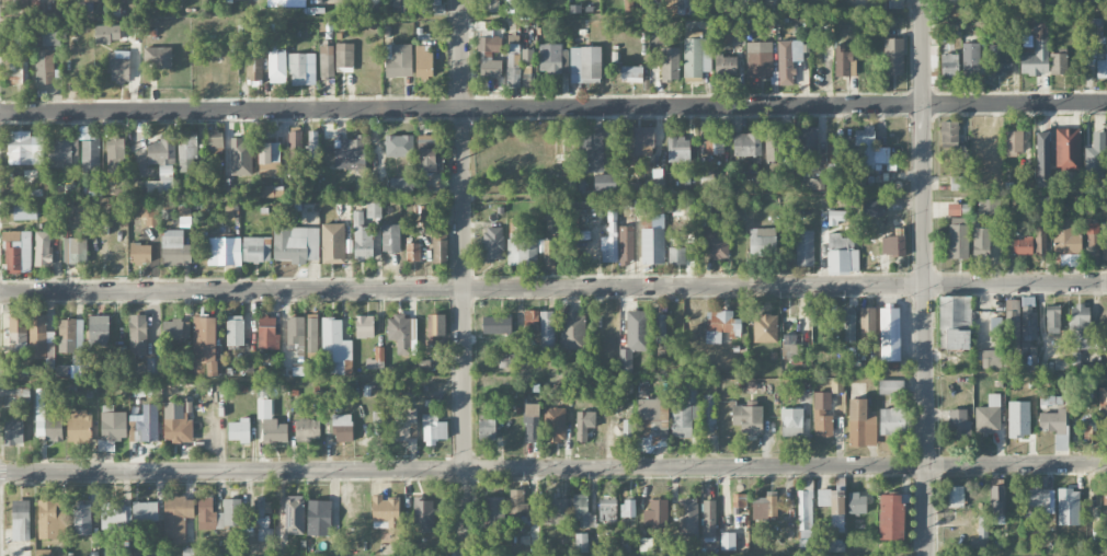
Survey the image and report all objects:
building: (287, 2)
building: (894, 3)
building: (26, 5)
building: (491, 5)
building: (681, 5)
building: (1094, 26)
building: (107, 33)
building: (731, 33)
building: (50, 36)
building: (19, 37)
building: (1037, 50)
building: (344, 54)
building: (696, 56)
building: (893, 56)
building: (157, 57)
building: (490, 57)
building: (553, 58)
building: (758, 58)
building: (1000, 58)
building: (398, 59)
building: (788, 59)
building: (513, 60)
building: (970, 60)
building: (327, 61)
building: (424, 61)
building: (844, 61)
building: (670, 62)
building: (1058, 62)
building: (726, 63)
building: (585, 65)
building: (949, 65)
building: (45, 66)
building: (118, 66)
building: (276, 67)
building: (301, 67)
building: (1102, 67)
building: (254, 70)
building: (527, 70)
building: (16, 72)
building: (631, 73)
road: (553, 107)
building: (949, 131)
building: (1014, 140)
building: (639, 142)
building: (294, 143)
building: (714, 143)
building: (746, 143)
building: (216, 144)
building: (311, 144)
building: (398, 146)
building: (20, 147)
building: (774, 147)
building: (678, 148)
building: (591, 149)
building: (804, 149)
building: (1068, 149)
building: (161, 150)
building: (115, 151)
building: (186, 151)
building: (349, 151)
building: (870, 151)
building: (59, 152)
building: (426, 152)
building: (834, 153)
building: (1095, 155)
building: (90, 157)
building: (240, 157)
building: (270, 159)
building: (1042, 159)
building: (162, 181)
building: (605, 182)
building: (958, 183)
building: (815, 184)
building: (871, 208)
building: (954, 208)
building: (374, 209)
building: (424, 210)
building: (24, 211)
building: (149, 213)
building: (1041, 233)
building: (1065, 235)
building: (362, 238)
building: (390, 238)
building: (958, 238)
building: (762, 240)
building: (1092, 240)
building: (653, 242)
building: (717, 242)
building: (296, 243)
building: (333, 243)
building: (493, 243)
building: (981, 243)
building: (609, 244)
building: (892, 244)
building: (626, 245)
building: (1023, 245)
building: (804, 247)
building: (1104, 247)
building: (43, 248)
building: (174, 248)
building: (256, 248)
building: (224, 250)
building: (555, 250)
building: (78, 251)
building: (412, 251)
building: (440, 251)
building: (18, 252)
building: (98, 252)
building: (522, 252)
building: (675, 252)
building: (140, 253)
building: (842, 254)
road: (925, 277)
road: (460, 278)
road: (553, 286)
building: (1028, 318)
building: (1052, 320)
building: (530, 321)
building: (955, 322)
building: (867, 323)
building: (497, 324)
building: (849, 324)
building: (1012, 324)
building: (311, 325)
building: (720, 325)
building: (364, 326)
building: (1080, 326)
building: (765, 327)
building: (175, 328)
building: (432, 328)
building: (547, 328)
building: (661, 328)
building: (235, 329)
building: (99, 331)
building: (572, 331)
building: (18, 332)
building: (267, 333)
building: (402, 333)
building: (890, 334)
building: (138, 335)
building: (70, 336)
building: (635, 337)
building: (41, 339)
building: (335, 344)
building: (204, 345)
building: (791, 347)
building: (990, 358)
building: (376, 359)
building: (504, 362)
building: (153, 367)
building: (836, 386)
building: (890, 386)
building: (1051, 401)
building: (1103, 402)
building: (684, 412)
building: (707, 413)
building: (822, 414)
building: (989, 414)
building: (749, 417)
building: (653, 419)
building: (891, 420)
building: (532, 421)
building: (791, 421)
building: (406, 422)
building: (861, 422)
building: (47, 424)
building: (176, 424)
building: (271, 424)
building: (555, 424)
building: (960, 425)
building: (581, 426)
building: (1055, 426)
building: (79, 427)
building: (112, 427)
building: (342, 427)
building: (487, 427)
building: (627, 428)
building: (307, 429)
building: (433, 429)
building: (142, 430)
building: (239, 430)
building: (13, 432)
building: (1089, 433)
road: (552, 467)
building: (1105, 494)
building: (955, 496)
building: (823, 497)
building: (1040, 498)
building: (739, 500)
building: (857, 505)
building: (517, 506)
building: (765, 506)
building: (607, 508)
building: (628, 508)
building: (549, 509)
building: (581, 509)
building: (837, 510)
building: (494, 511)
building: (657, 511)
building: (145, 512)
building: (385, 512)
building: (219, 514)
building: (295, 514)
building: (423, 514)
building: (113, 516)
building: (688, 517)
building: (890, 517)
building: (176, 518)
building: (319, 518)
building: (708, 518)
building: (804, 518)
building: (21, 520)
building: (50, 520)
building: (82, 520)
building: (263, 521)
building: (981, 533)
building: (728, 541)
building: (581, 542)
building: (646, 544)
building: (834, 545)

